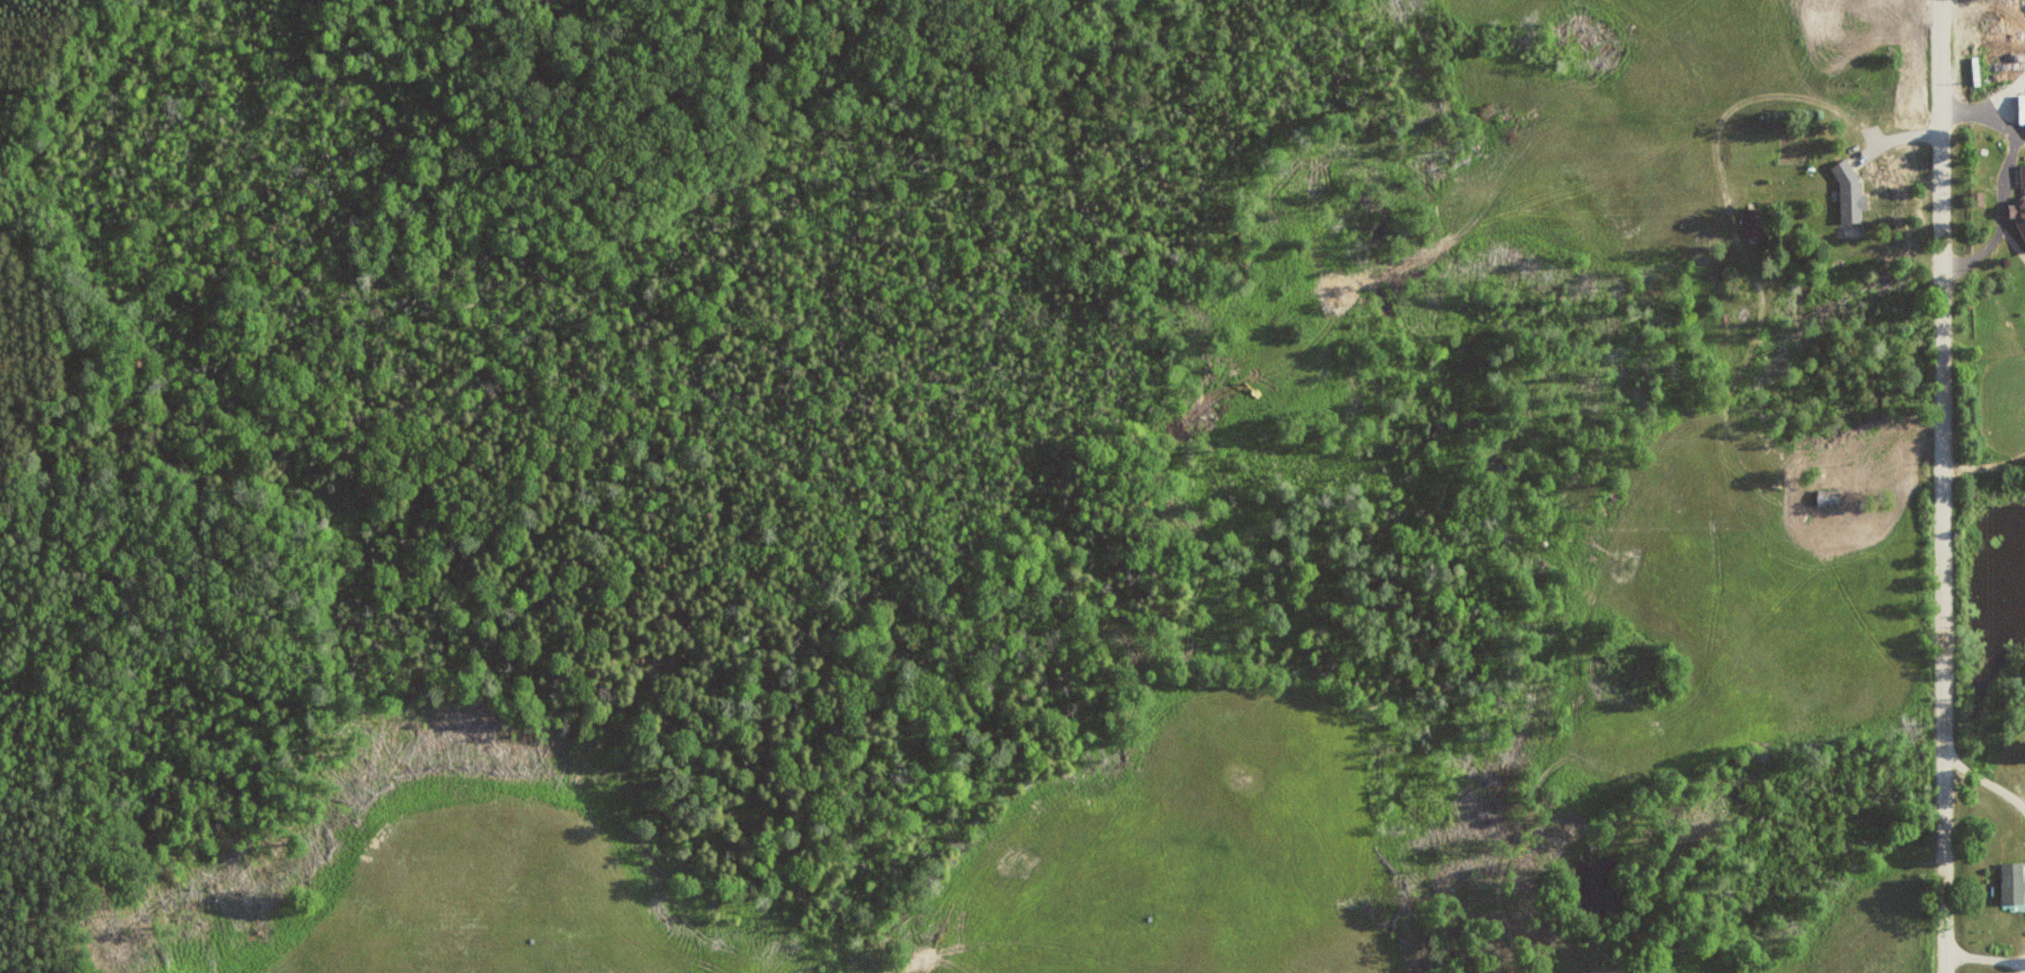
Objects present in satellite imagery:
building: (2022, 108)
building: (1849, 191)
building: (2021, 205)
building: (1754, 222)
road: (1937, 486)
building: (1827, 497)
building: (2013, 886)

